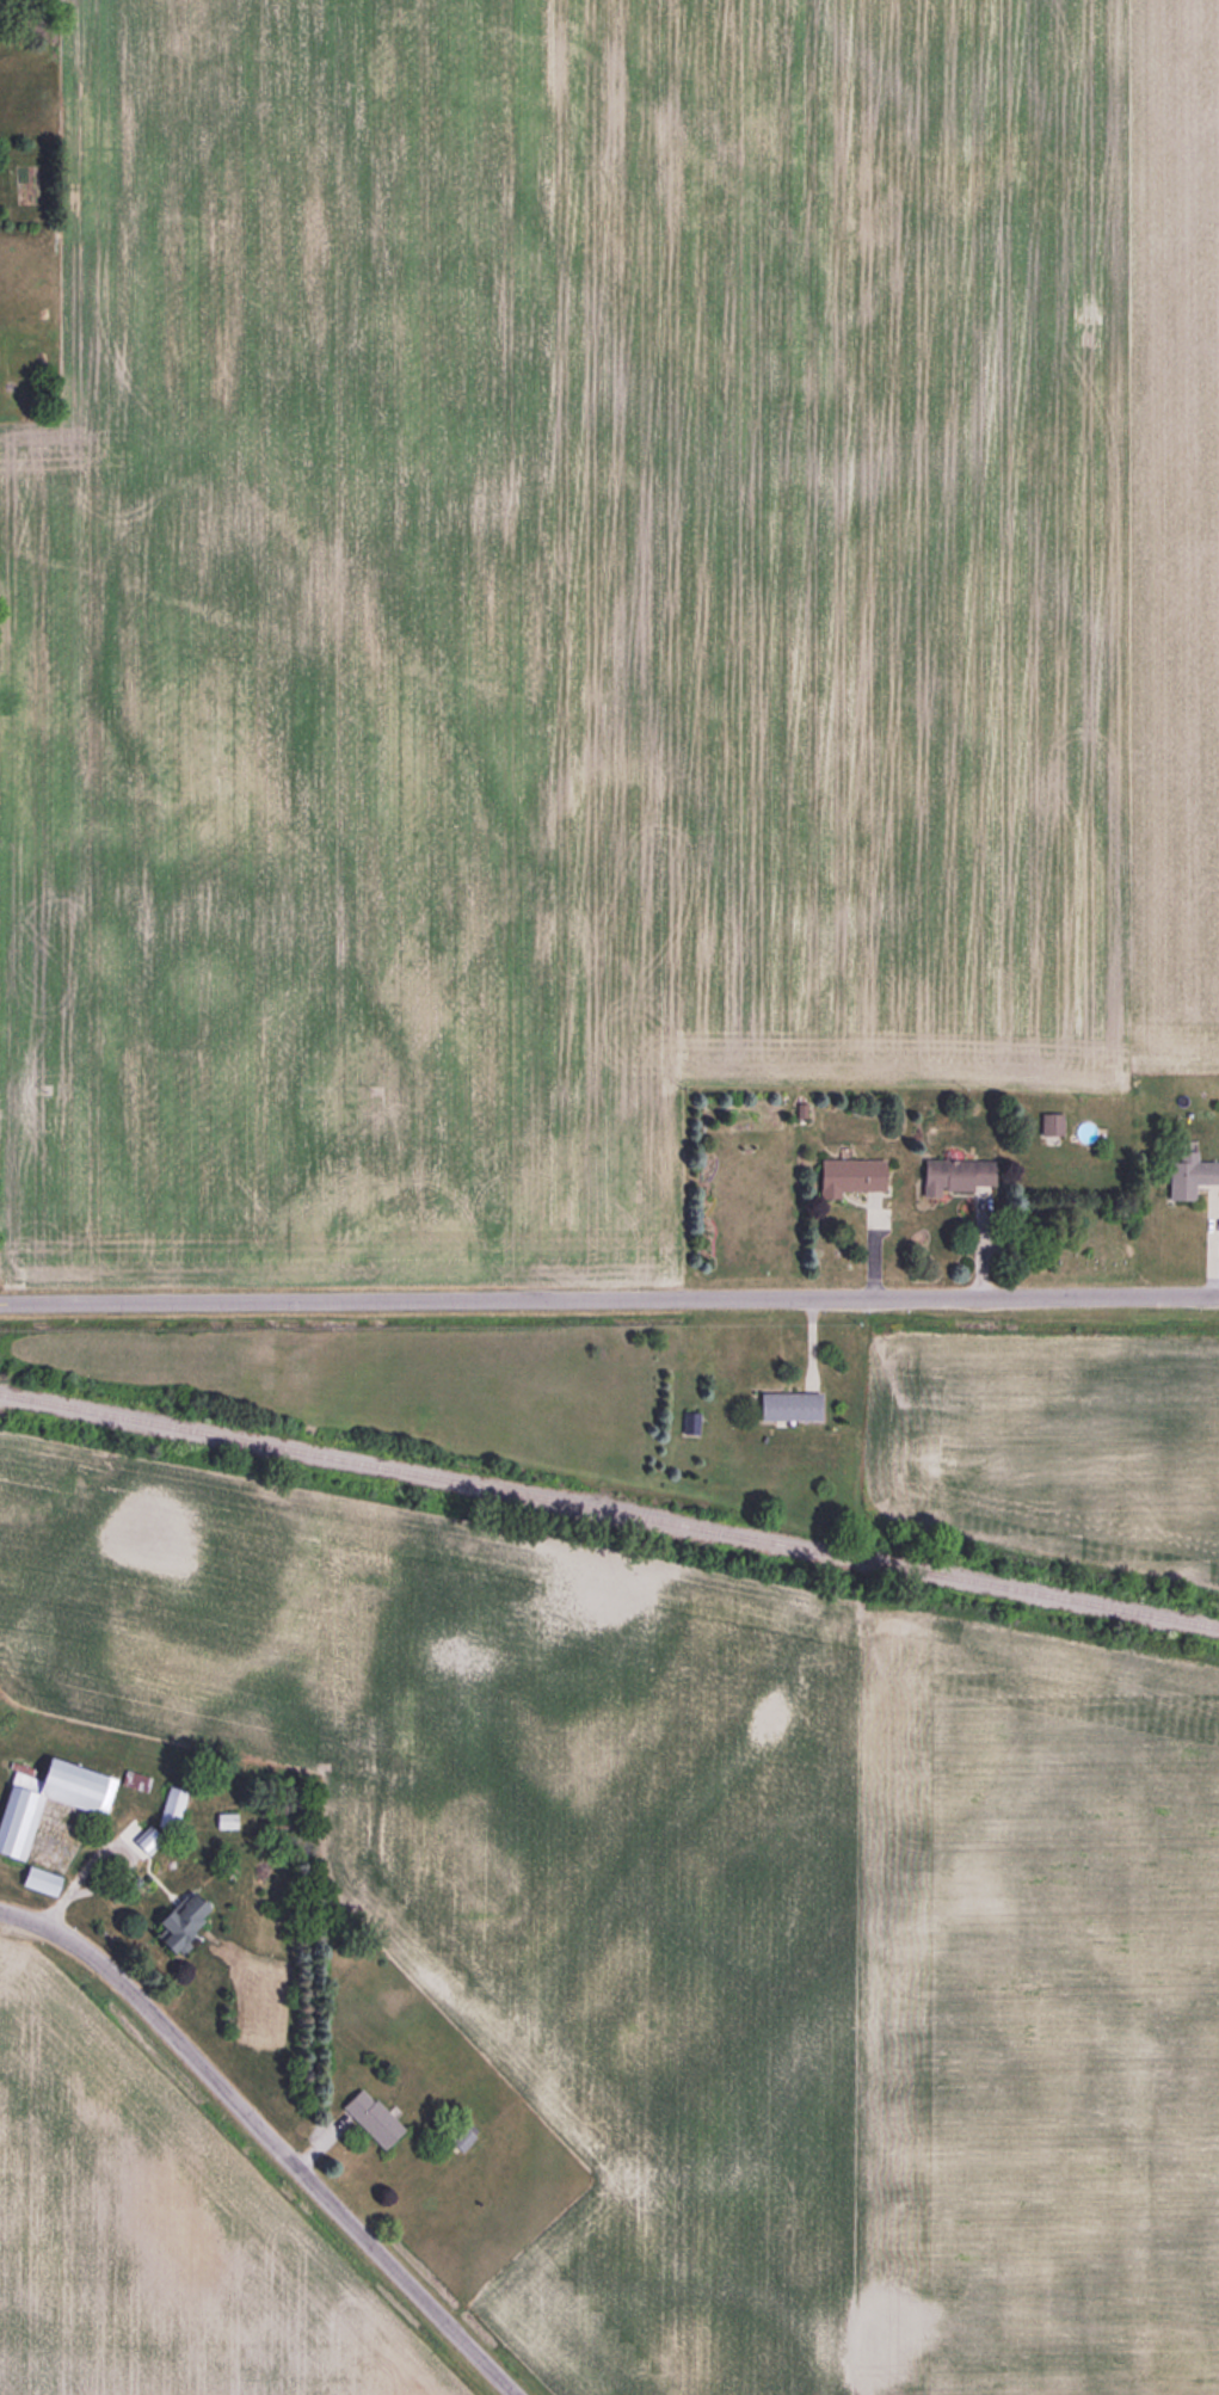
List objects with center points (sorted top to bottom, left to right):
building: (1049, 1123)
building: (848, 1176)
building: (953, 1176)
building: (1190, 1176)
park: (1073, 1251)
road: (609, 1303)
building: (787, 1405)
railway: (609, 1509)
building: (49, 1802)
building: (173, 1804)
building: (226, 1822)
road: (105, 1843)
building: (37, 1880)
building: (178, 1919)
building: (370, 2117)
road: (273, 2136)

